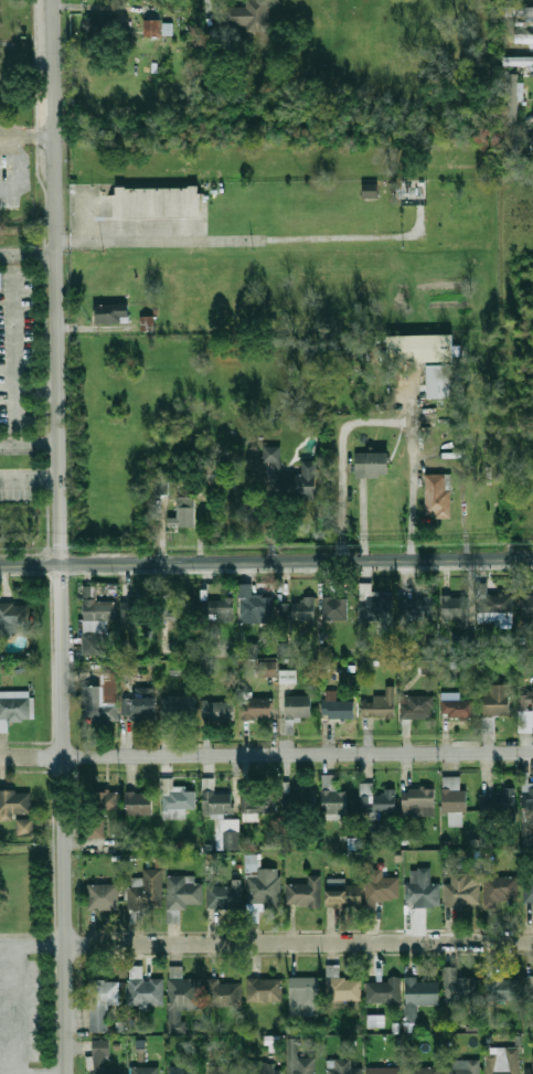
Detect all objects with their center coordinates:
building: (519, 11)
building: (246, 14)
building: (152, 29)
building: (523, 39)
building: (518, 60)
building: (513, 99)
road: (15, 135)
road: (36, 135)
building: (532, 142)
road: (18, 170)
building: (371, 190)
building: (158, 201)
road: (90, 224)
road: (249, 240)
road: (29, 254)
building: (114, 313)
building: (146, 323)
road: (10, 348)
building: (420, 348)
building: (439, 380)
road: (35, 390)
road: (30, 443)
building: (191, 444)
road: (342, 459)
building: (372, 462)
road: (30, 475)
road: (411, 475)
building: (291, 476)
building: (160, 490)
building: (438, 496)
building: (183, 513)
road: (61, 536)
road: (297, 561)
road: (30, 564)
building: (495, 604)
building: (374, 605)
building: (526, 605)
building: (416, 607)
building: (179, 608)
building: (217, 608)
building: (255, 608)
building: (333, 608)
building: (298, 609)
building: (131, 610)
building: (455, 610)
building: (96, 615)
building: (11, 619)
building: (532, 640)
building: (283, 649)
building: (428, 667)
building: (267, 669)
building: (288, 676)
building: (102, 700)
building: (497, 700)
building: (377, 705)
building: (140, 706)
building: (179, 706)
building: (297, 706)
building: (417, 706)
building: (456, 706)
building: (14, 708)
building: (260, 708)
building: (218, 709)
building: (338, 709)
building: (525, 711)
road: (266, 755)
building: (454, 795)
building: (331, 797)
building: (527, 797)
building: (300, 798)
building: (215, 799)
building: (375, 799)
building: (175, 800)
building: (257, 800)
building: (15, 801)
building: (418, 801)
building: (498, 801)
building: (140, 802)
building: (99, 810)
building: (262, 883)
building: (381, 887)
building: (420, 887)
building: (462, 890)
building: (501, 890)
building: (529, 890)
building: (147, 892)
building: (184, 892)
building: (305, 892)
building: (343, 895)
building: (103, 896)
building: (224, 897)
road: (31, 934)
road: (297, 943)
road: (31, 944)
park: (23, 958)
building: (341, 986)
building: (459, 987)
building: (501, 988)
building: (266, 989)
building: (529, 989)
building: (383, 990)
building: (146, 991)
building: (182, 991)
building: (221, 993)
building: (303, 993)
building: (418, 996)
building: (100, 1003)
parking lot: (19, 1008)
road: (19, 1009)
building: (375, 1020)
building: (103, 1059)
building: (299, 1060)
building: (503, 1061)
building: (530, 1064)
building: (342, 1067)
building: (462, 1067)
building: (263, 1068)
building: (184, 1070)
building: (225, 1070)
building: (145, 1071)
building: (385, 1071)
building: (424, 1071)

